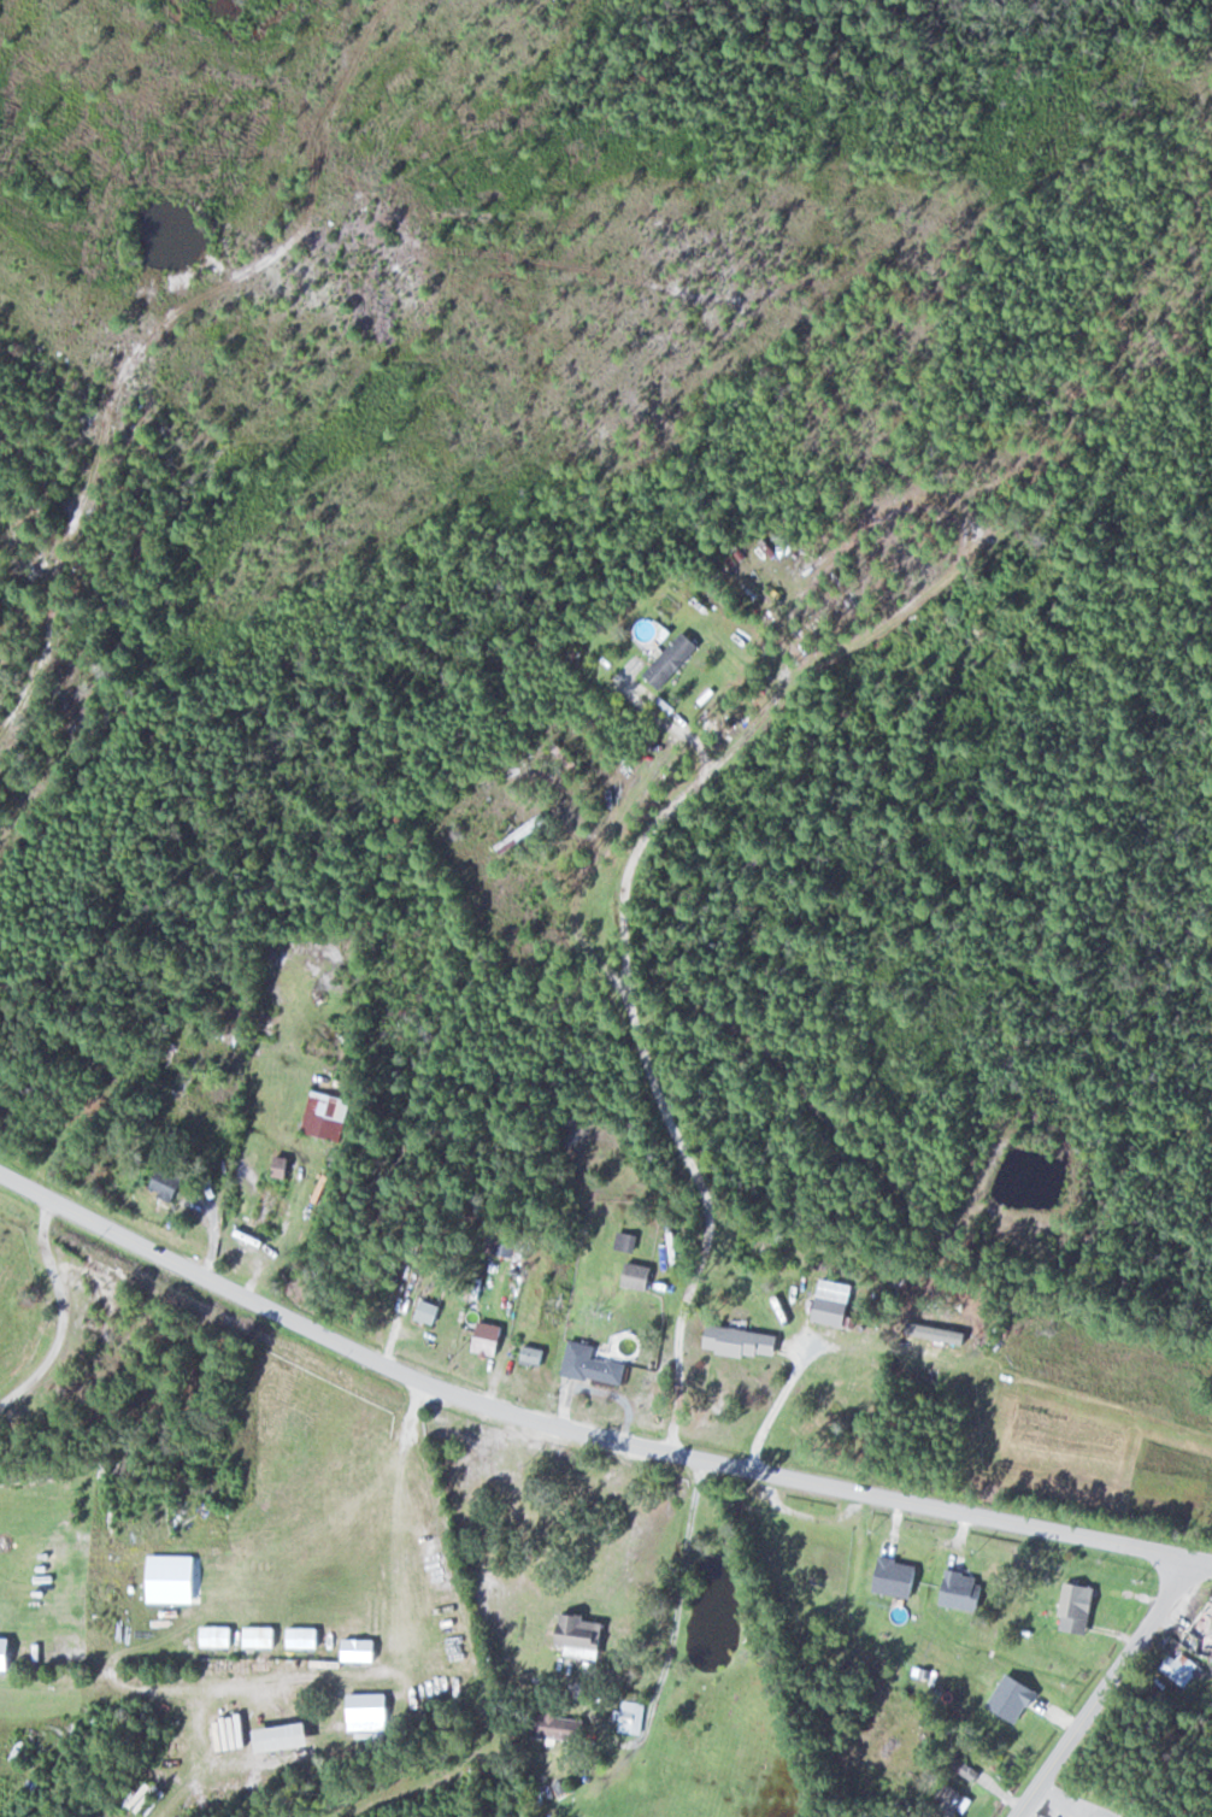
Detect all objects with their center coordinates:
building: (675, 660)
building: (330, 1116)
building: (169, 1184)
building: (275, 1201)
building: (628, 1241)
building: (640, 1276)
building: (841, 1304)
building: (430, 1312)
building: (492, 1342)
building: (746, 1342)
building: (535, 1356)
building: (596, 1365)
road: (584, 1424)
road: (428, 1460)
building: (1081, 1609)
road: (180, 1622)
building: (586, 1633)
building: (263, 1637)
building: (306, 1639)
building: (363, 1651)
building: (1184, 1670)
road: (1100, 1687)
building: (373, 1712)
building: (635, 1718)
building: (289, 1739)
building: (957, 1801)

